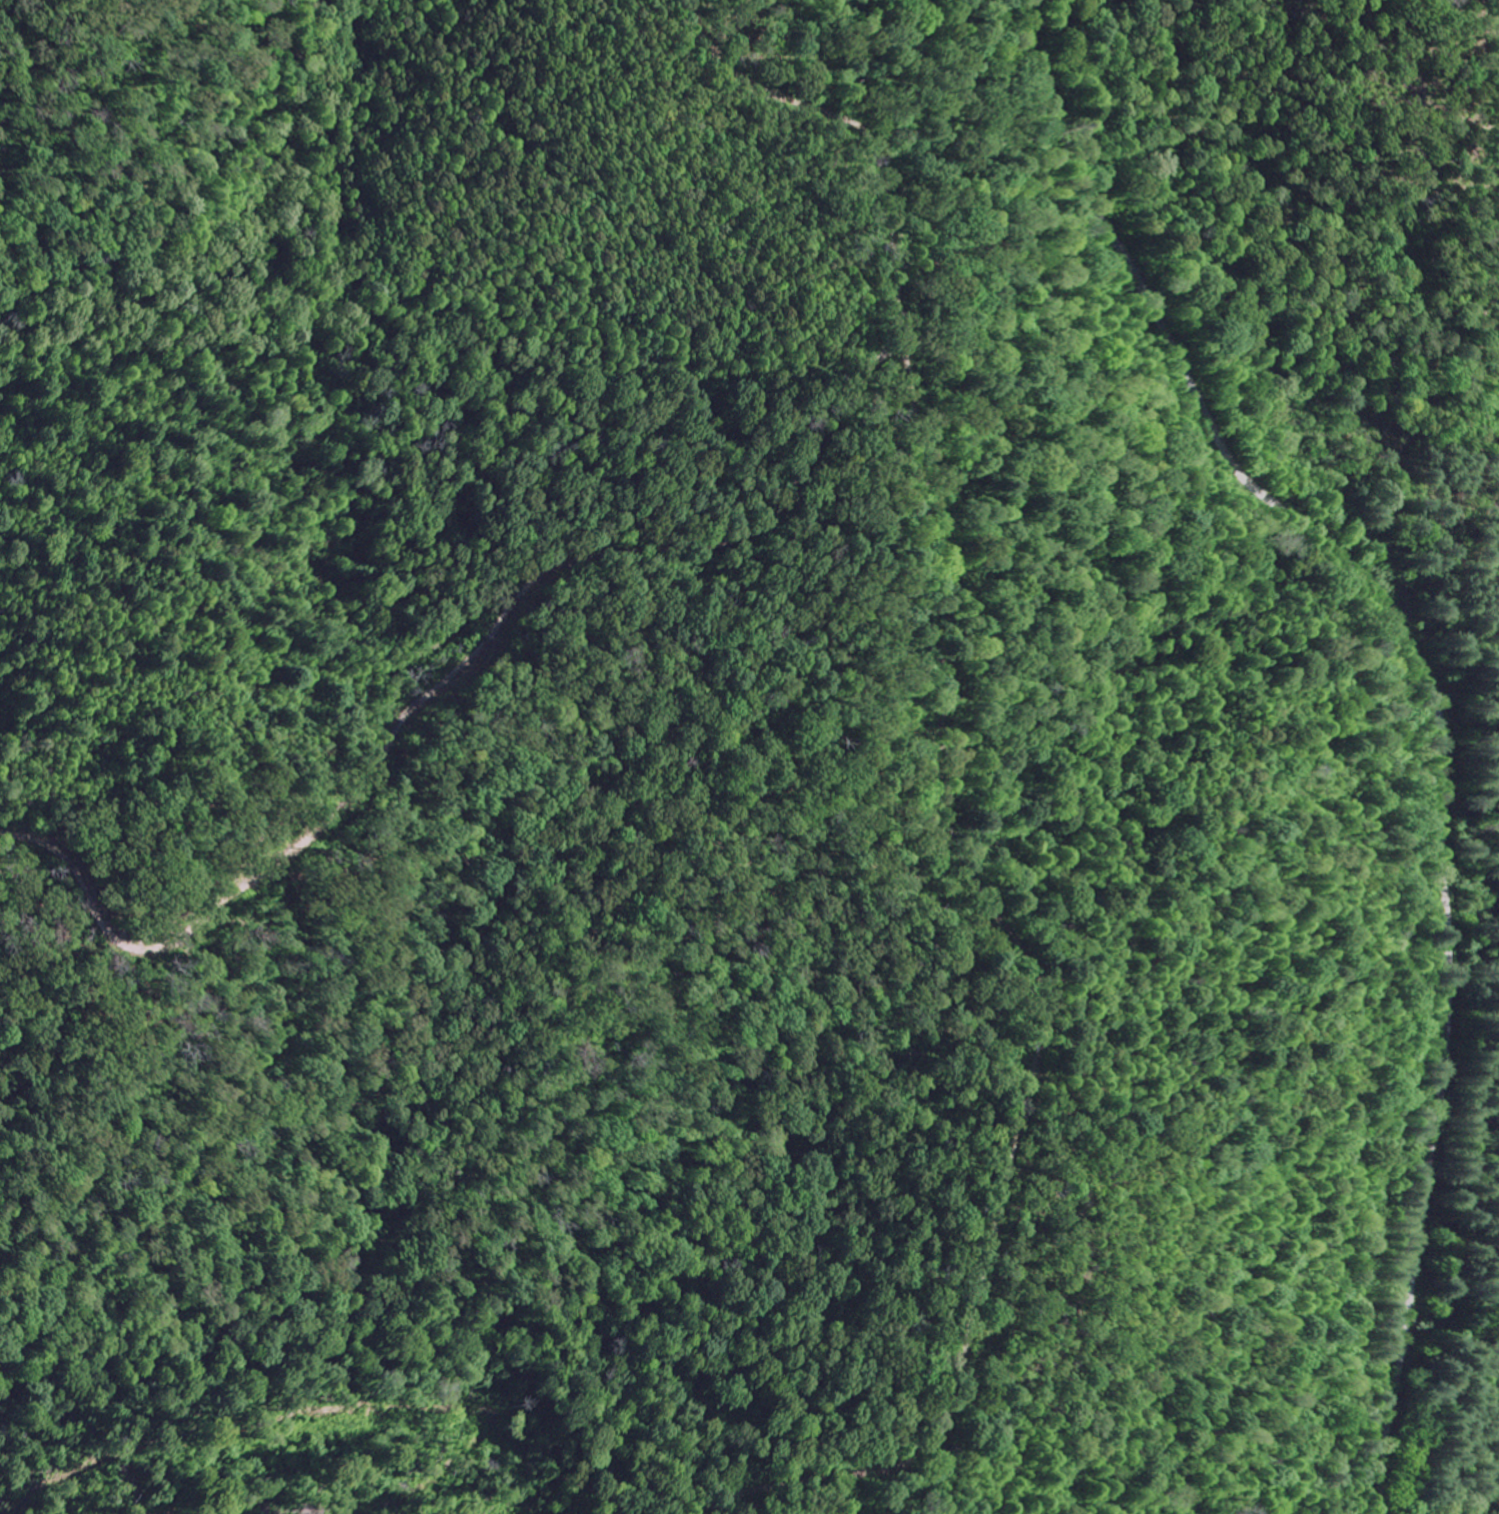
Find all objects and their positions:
road: (1432, 697)

